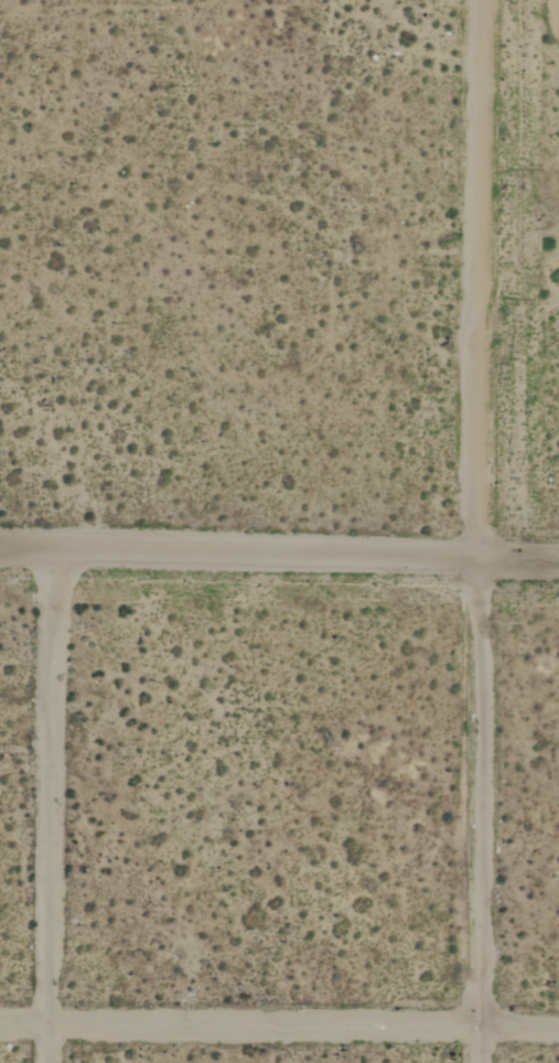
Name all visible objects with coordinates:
road: (473, 279)
road: (279, 554)
road: (50, 805)
road: (472, 810)
road: (279, 1021)

